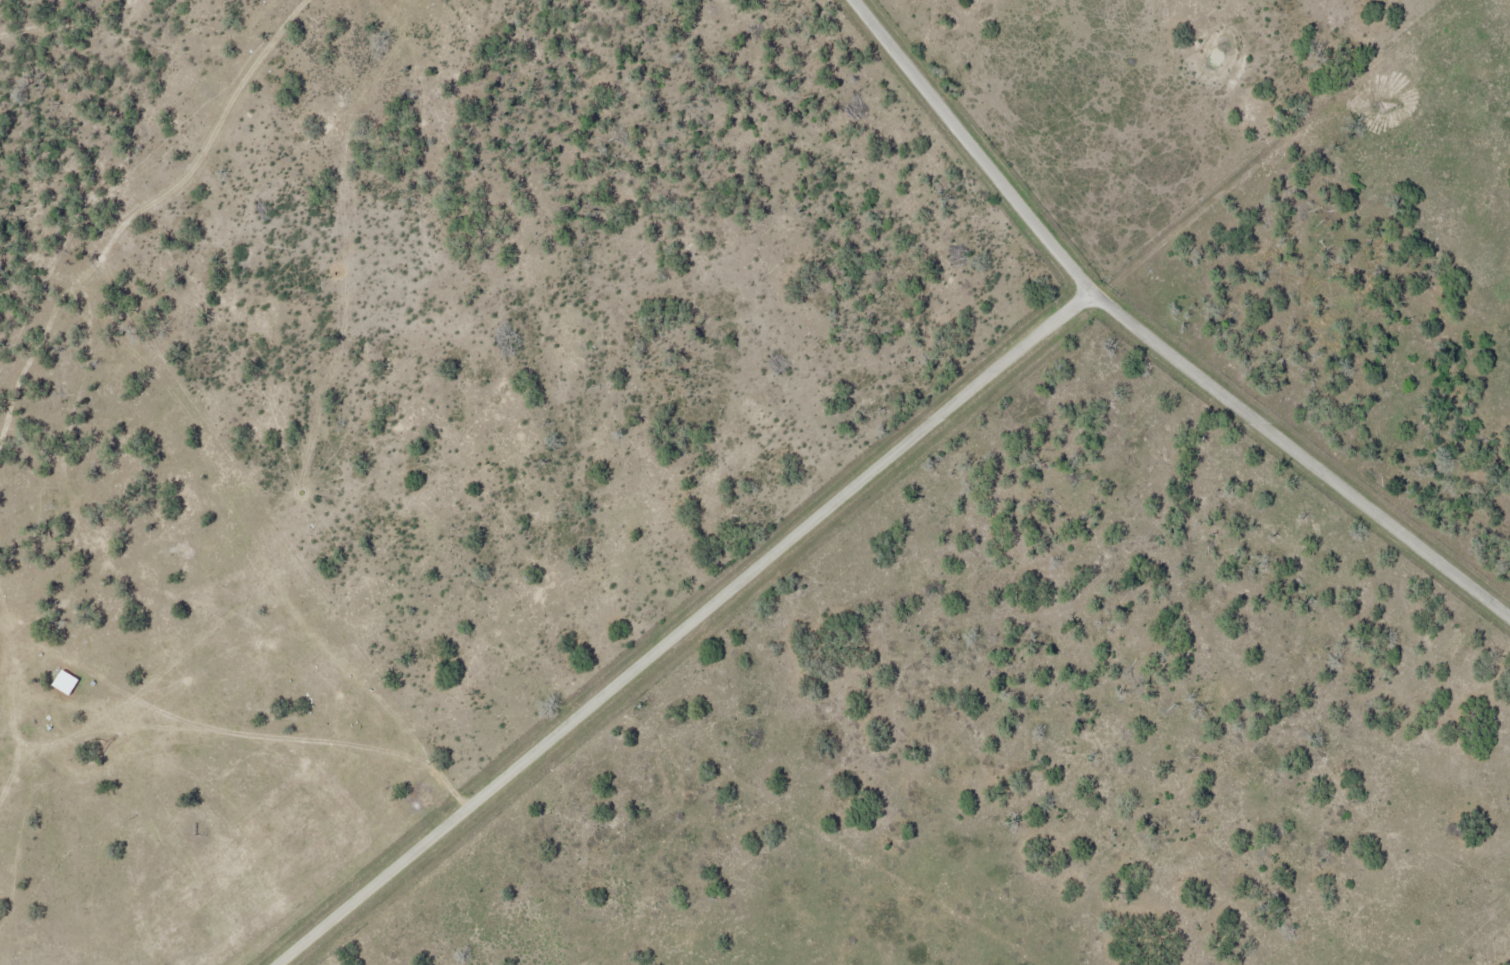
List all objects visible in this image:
road: (1157, 334)
road: (693, 627)

